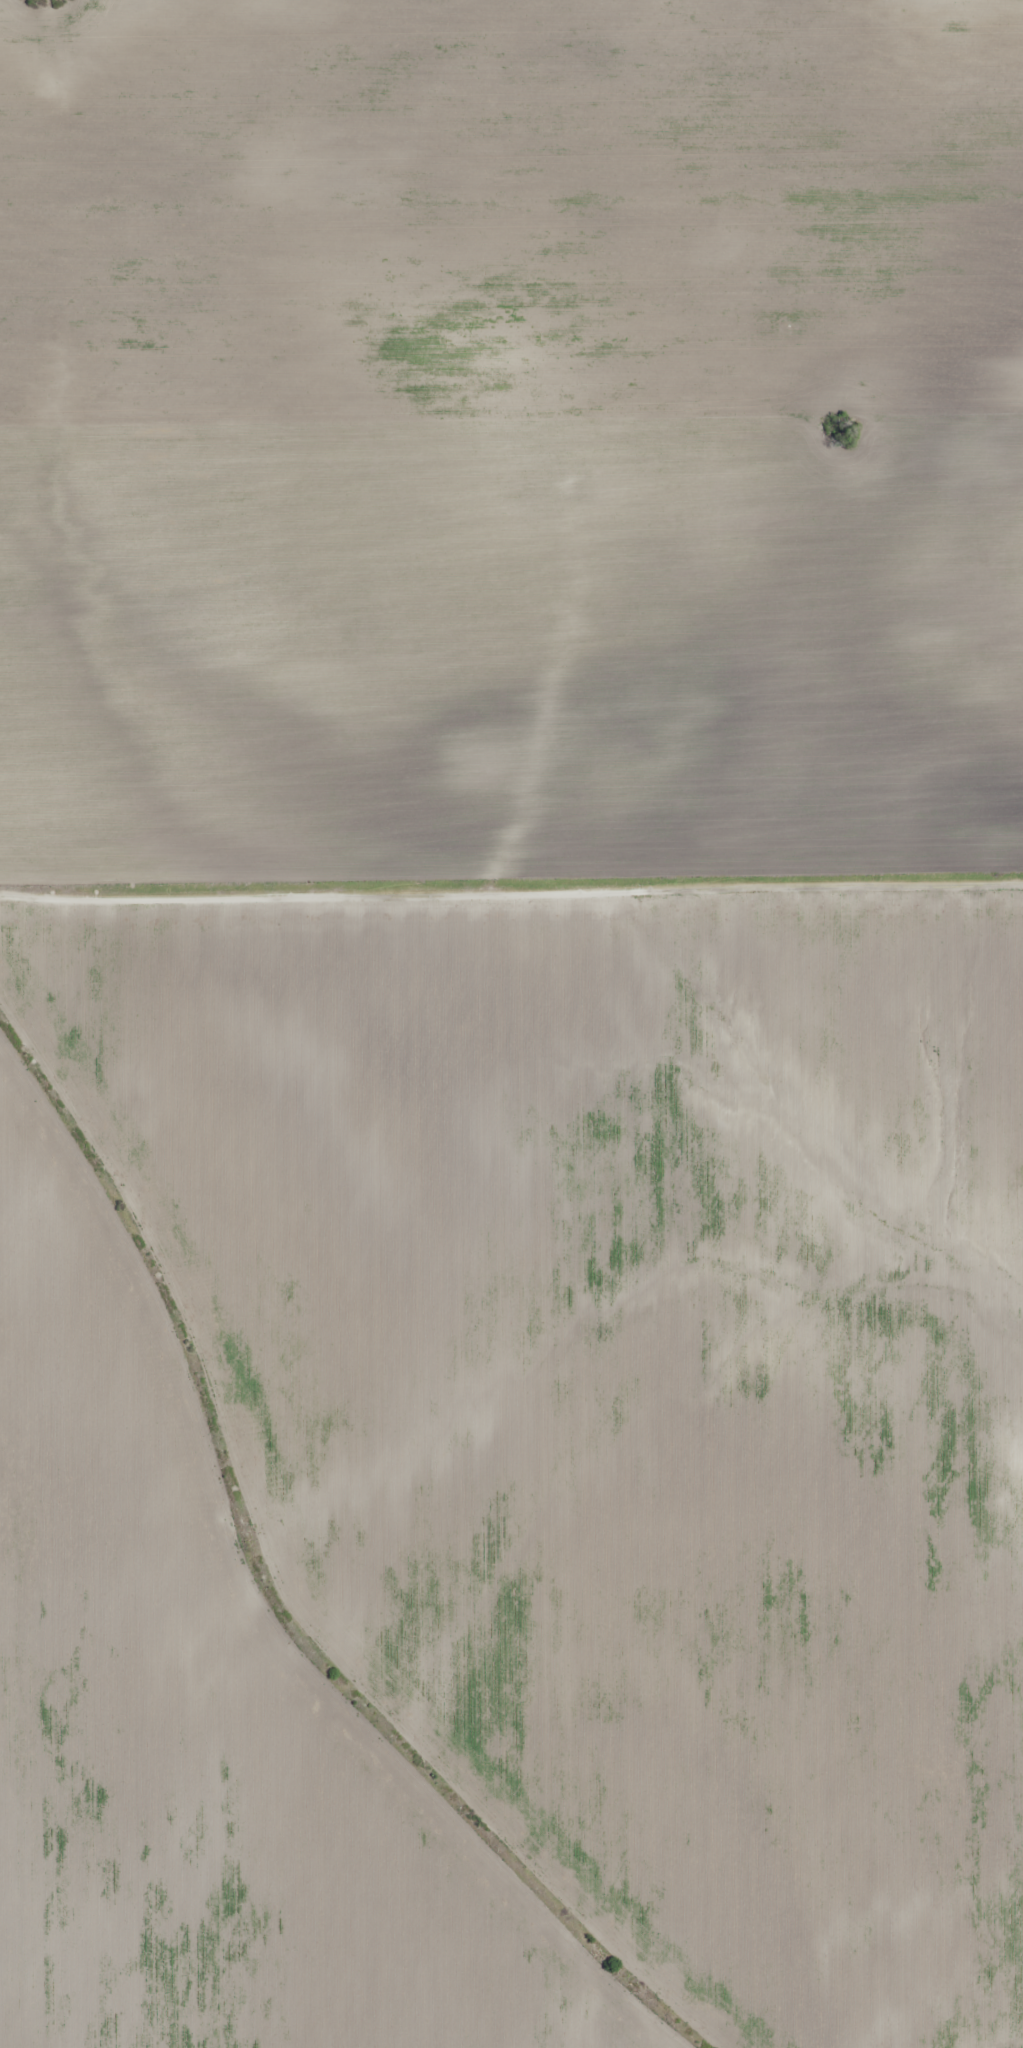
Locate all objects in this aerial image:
road: (511, 890)

